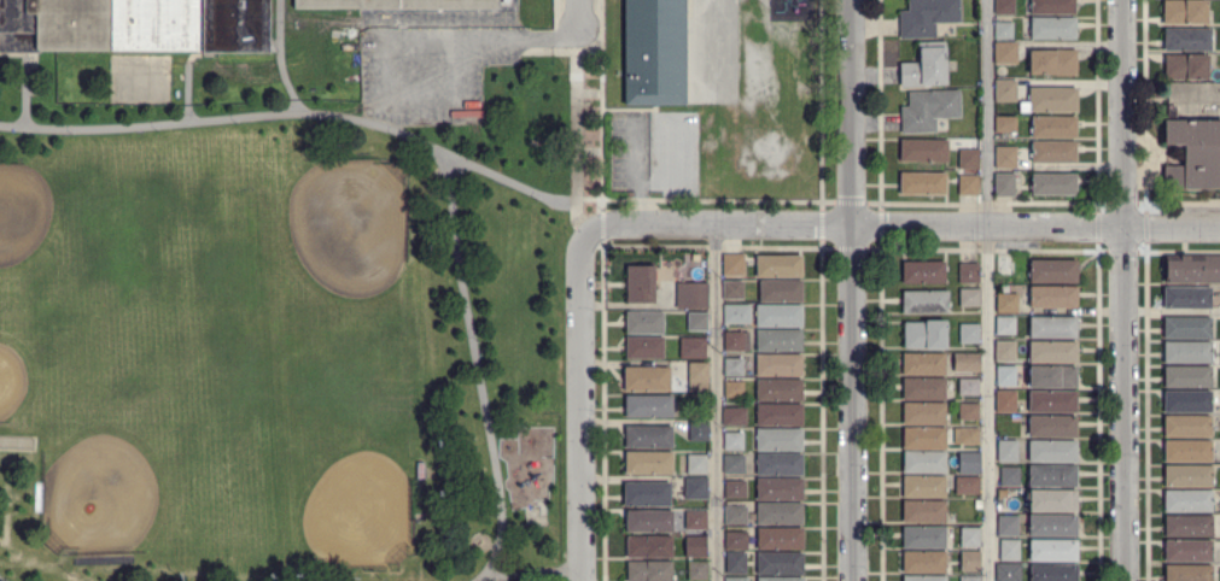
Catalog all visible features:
building: (392, 5)
building: (1003, 7)
building: (1051, 7)
building: (1184, 12)
building: (926, 17)
road: (578, 19)
building: (133, 28)
building: (1052, 29)
building: (1003, 30)
road: (386, 40)
building: (1186, 40)
building: (654, 52)
building: (1004, 53)
building: (1052, 63)
parking lot: (432, 64)
building: (923, 66)
building: (1185, 68)
building: (1004, 92)
building: (1052, 100)
building: (928, 110)
road: (206, 118)
building: (1004, 124)
building: (1052, 128)
building: (923, 151)
building: (1052, 152)
road: (450, 154)
building: (1192, 154)
building: (1005, 158)
building: (967, 159)
building: (921, 183)
building: (967, 184)
building: (1004, 184)
building: (1052, 184)
road: (901, 223)
building: (732, 265)
building: (1004, 265)
building: (778, 266)
building: (1191, 268)
building: (1052, 271)
building: (967, 272)
building: (922, 274)
building: (640, 284)
road: (852, 289)
road: (988, 289)
road: (1129, 289)
building: (732, 290)
building: (780, 292)
building: (691, 297)
building: (968, 298)
building: (1051, 298)
building: (1186, 298)
building: (924, 303)
building: (1005, 303)
building: (736, 315)
building: (778, 317)
building: (642, 322)
building: (696, 322)
building: (1004, 325)
building: (1051, 327)
park: (281, 329)
building: (1186, 329)
building: (968, 334)
building: (924, 336)
building: (778, 341)
building: (736, 342)
building: (643, 348)
building: (691, 348)
building: (1004, 352)
building: (1051, 352)
building: (1186, 352)
building: (964, 363)
building: (922, 364)
building: (732, 366)
building: (778, 366)
road: (480, 369)
building: (696, 371)
building: (1004, 375)
building: (1051, 377)
building: (1186, 377)
building: (646, 380)
building: (967, 387)
building: (732, 389)
building: (923, 389)
building: (777, 391)
road: (714, 401)
building: (1004, 401)
building: (1051, 403)
building: (1186, 403)
road: (585, 405)
building: (648, 406)
building: (968, 411)
building: (923, 413)
building: (778, 415)
building: (732, 416)
building: (1051, 426)
building: (1186, 427)
building: (697, 430)
building: (964, 436)
building: (648, 438)
building: (923, 439)
building: (777, 440)
building: (732, 441)
building: (1006, 451)
building: (1051, 452)
building: (1186, 452)
building: (648, 463)
building: (923, 463)
building: (968, 463)
building: (696, 464)
building: (732, 464)
building: (778, 464)
building: (1008, 476)
building: (1051, 476)
building: (1186, 476)
building: (965, 486)
building: (923, 487)
building: (695, 488)
building: (734, 489)
building: (778, 489)
building: (646, 494)
building: (1000, 494)
building: (1051, 501)
building: (1186, 501)
building: (968, 503)
building: (923, 512)
building: (777, 513)
building: (735, 515)
building: (649, 521)
building: (695, 521)
building: (1006, 526)
building: (1052, 526)
building: (1186, 526)
building: (923, 538)
building: (969, 538)
building: (780, 539)
building: (735, 540)
building: (695, 546)
building: (649, 547)
building: (1009, 551)
building: (1052, 551)
building: (1186, 551)
building: (969, 562)
building: (734, 563)
building: (922, 563)
building: (780, 564)
building: (648, 571)
building: (696, 571)
building: (1006, 573)
building: (1052, 573)
building: (1186, 573)
road: (1, 579)
building: (735, 579)
building: (778, 579)
building: (923, 579)
building: (969, 579)

